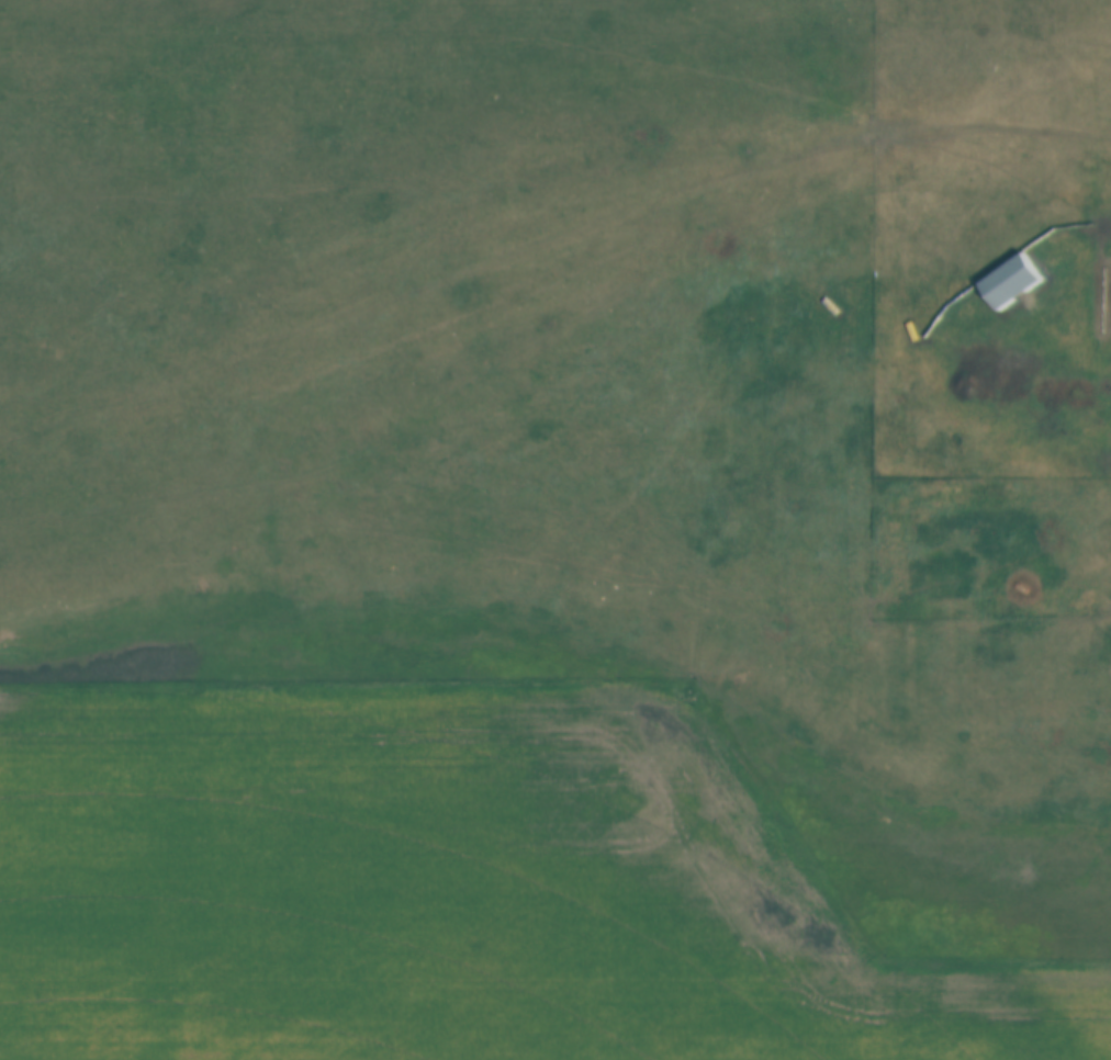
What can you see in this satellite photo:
road: (1103, 232)
building: (1006, 281)

